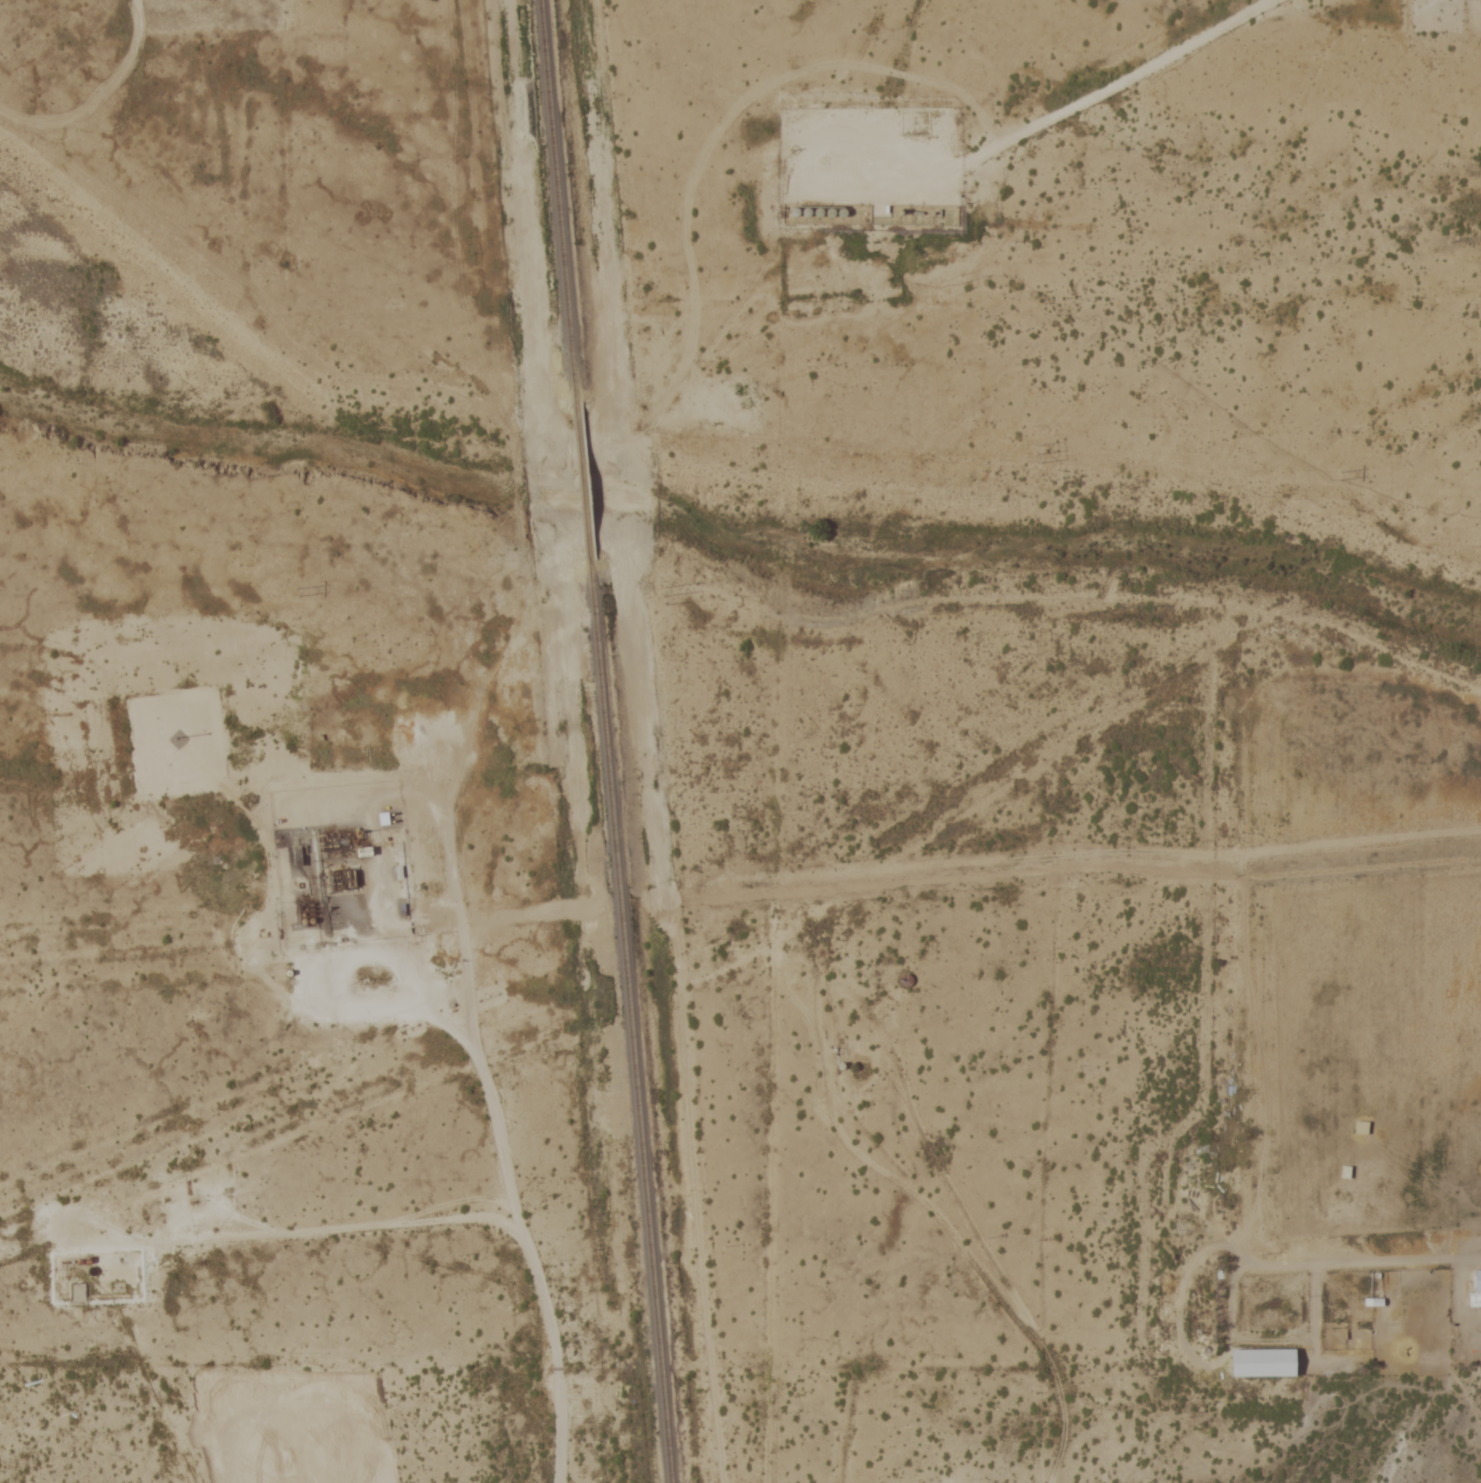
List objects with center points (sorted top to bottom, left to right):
road: (235, 30)
road: (993, 148)
road: (840, 191)
railway: (553, 202)
power tower: (1038, 453)
power tower: (1338, 475)
railway: (579, 493)
power tower: (295, 591)
road: (1042, 595)
power tower: (659, 596)
road: (421, 969)
railway: (628, 1032)
road: (511, 1181)
road: (289, 1230)
building: (1267, 1363)

